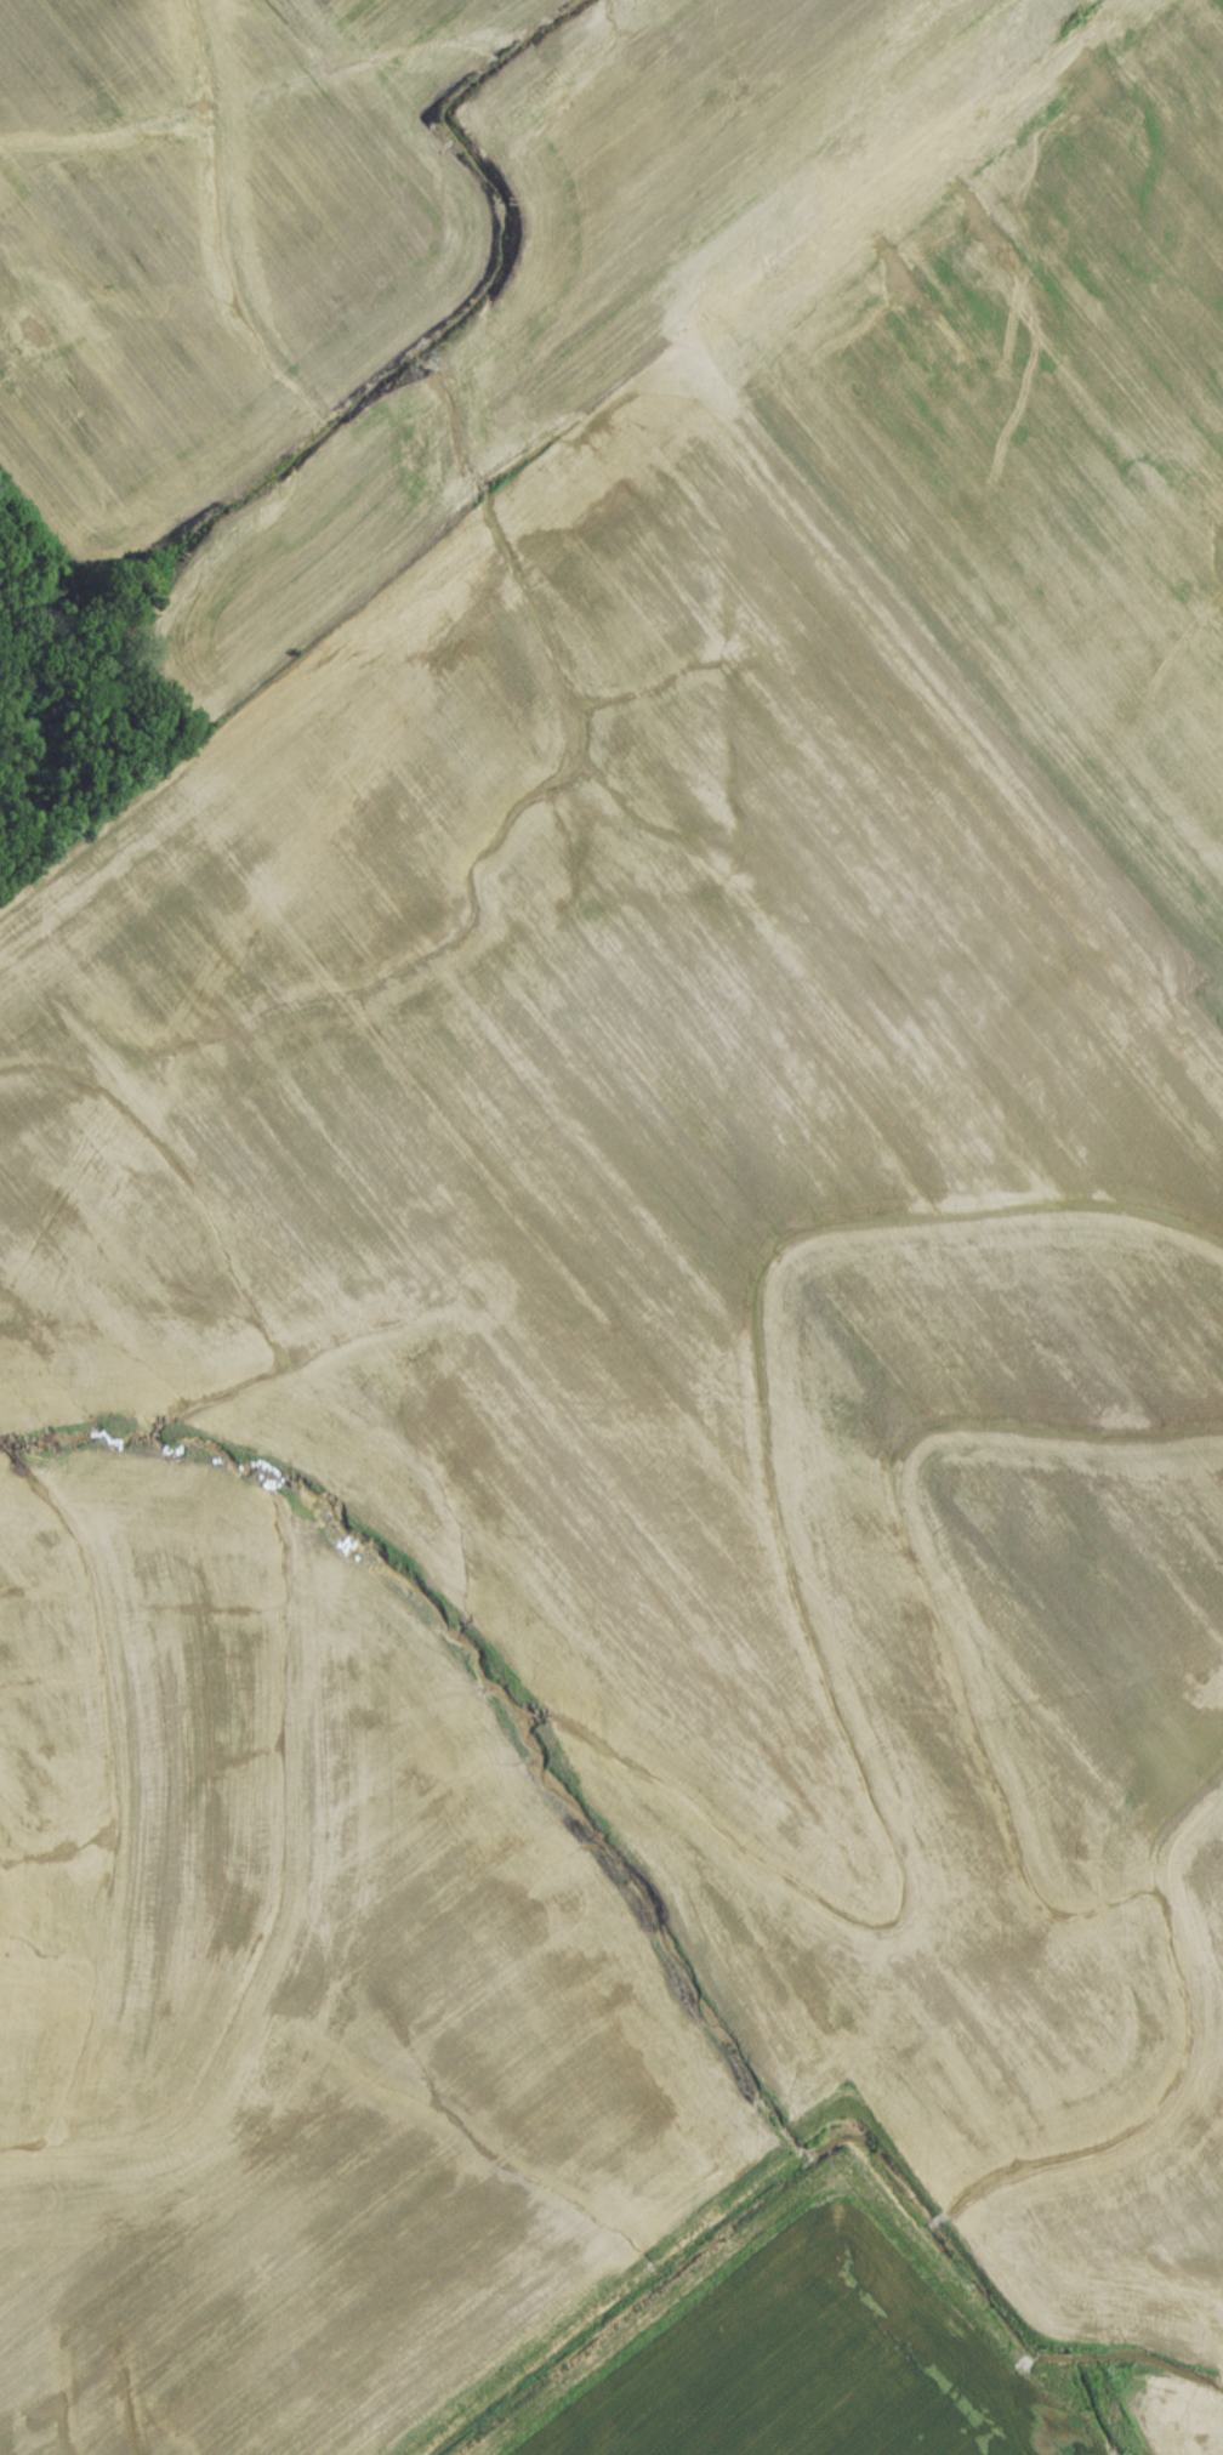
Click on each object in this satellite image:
park: (7, 8)

